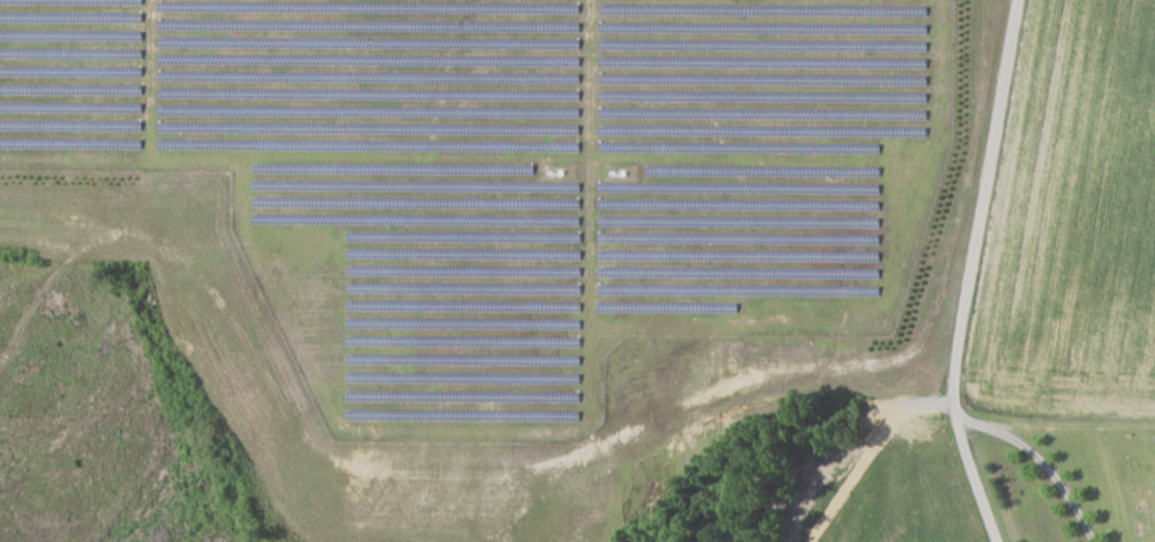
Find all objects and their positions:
solar farm: (511, 175)
road: (971, 273)
road: (1040, 462)
park: (1133, 471)

